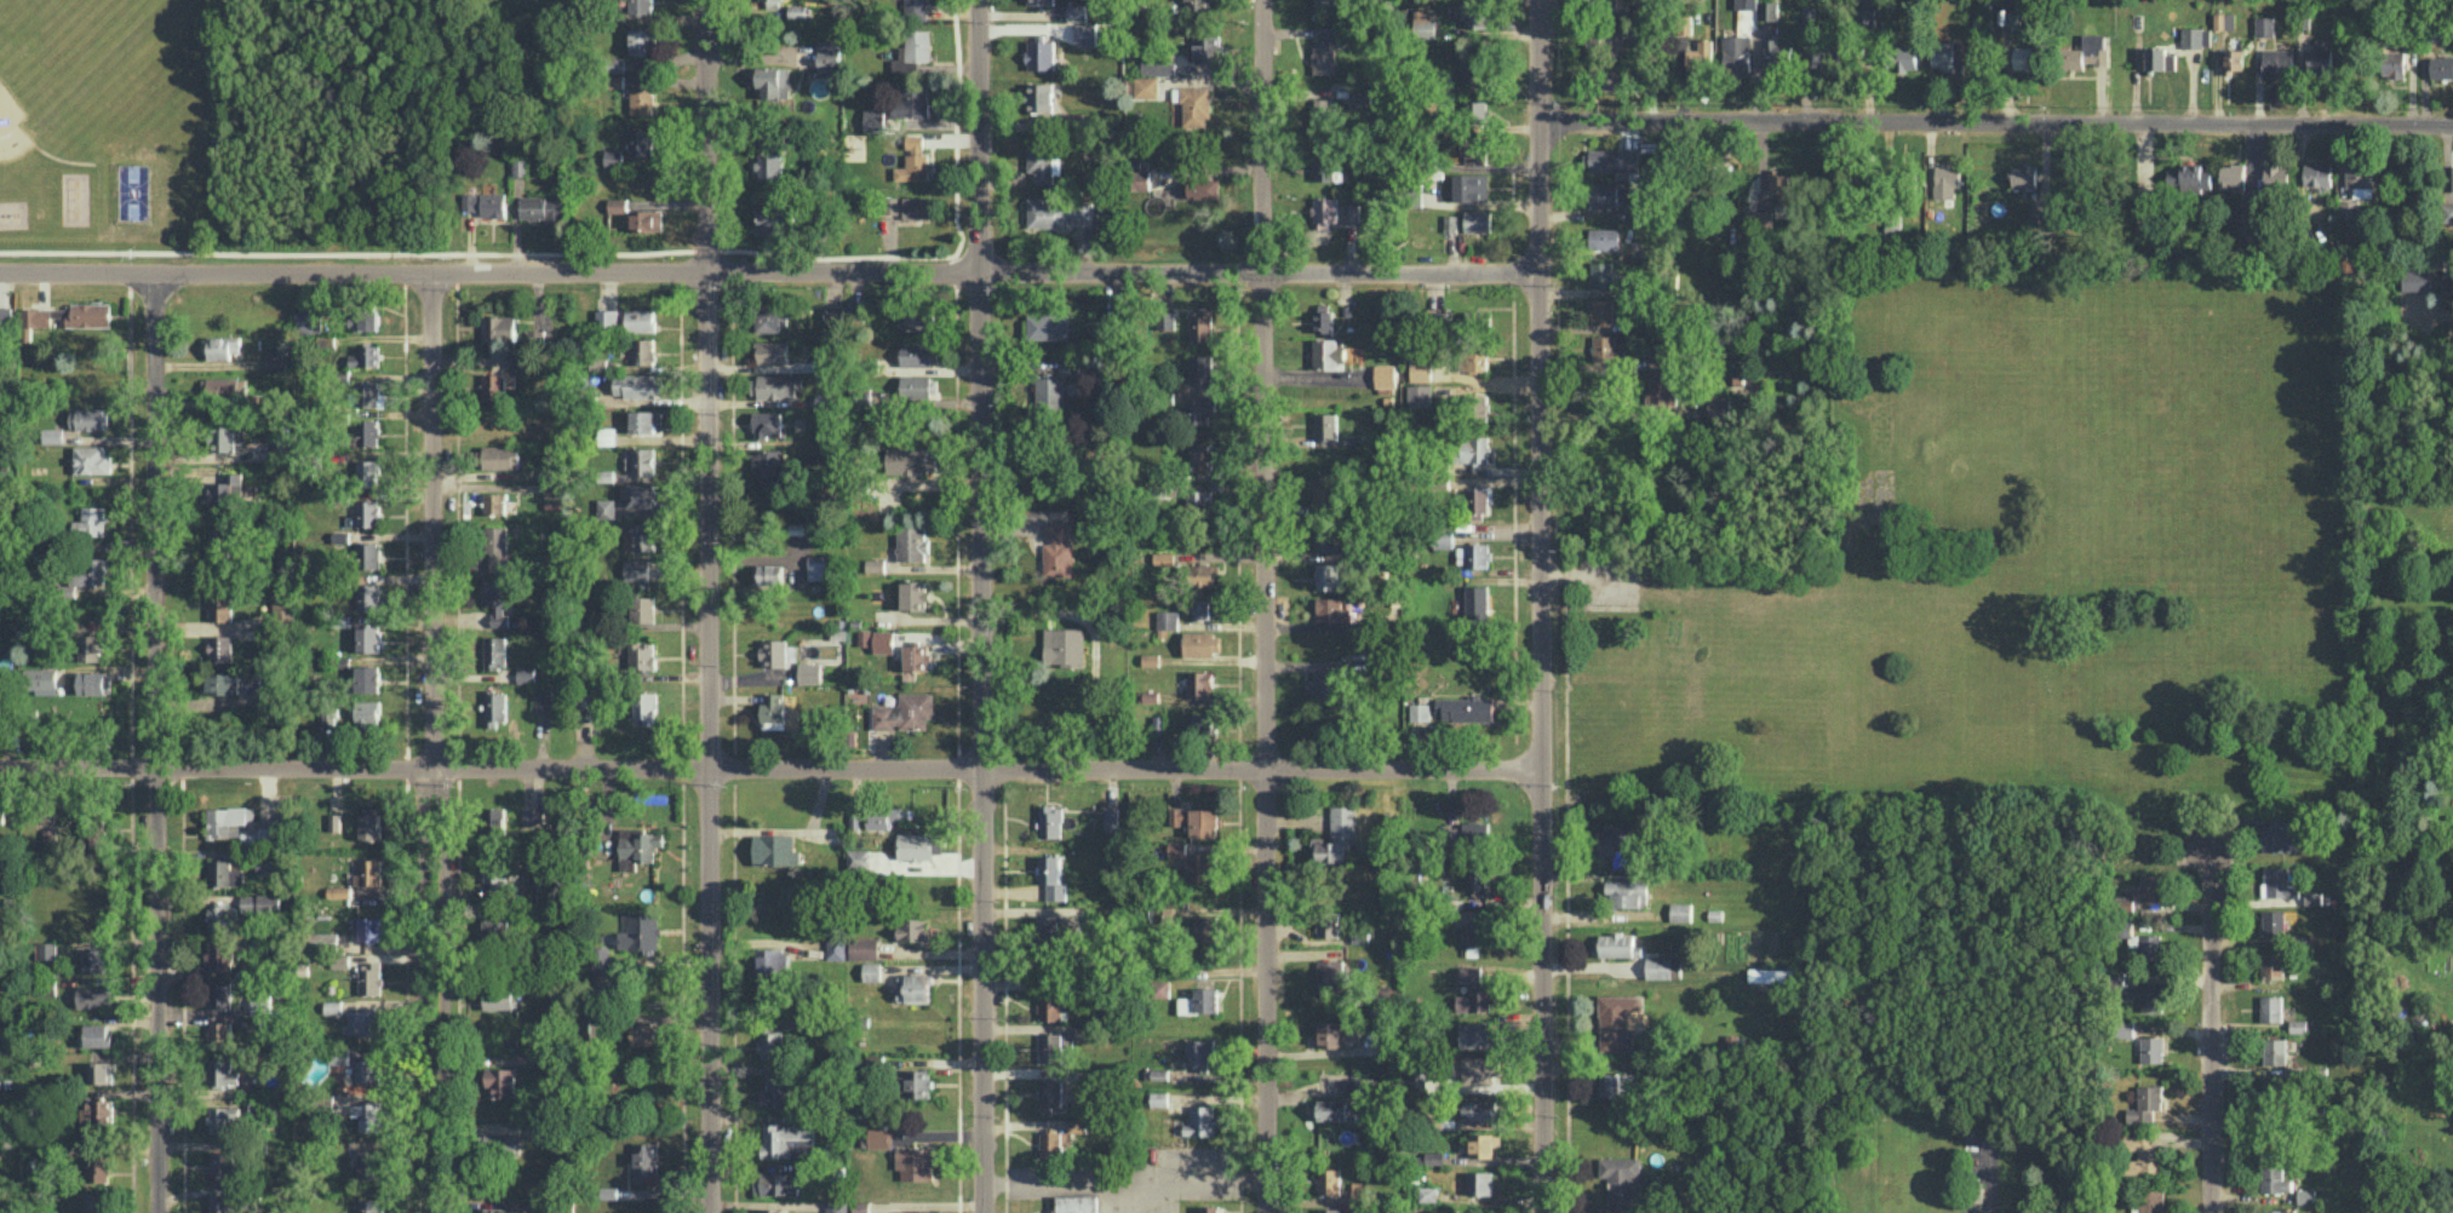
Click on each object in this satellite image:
building: (769, 1)
building: (1039, 1)
building: (1324, 2)
building: (1198, 4)
building: (1746, 4)
building: (640, 6)
building: (917, 8)
building: (1769, 10)
building: (799, 11)
building: (1077, 11)
building: (1474, 13)
building: (1425, 21)
building: (2223, 21)
building: (2264, 25)
building: (1085, 34)
building: (2195, 36)
building: (642, 40)
building: (1597, 44)
building: (1325, 47)
building: (1207, 48)
building: (912, 51)
building: (2085, 52)
building: (1736, 53)
building: (1776, 53)
building: (1819, 53)
building: (1947, 53)
building: (1041, 54)
building: (1908, 56)
building: (2320, 56)
building: (1700, 57)
building: (2025, 57)
building: (2159, 58)
building: (2233, 59)
building: (829, 62)
building: (2276, 62)
building: (2392, 63)
building: (2441, 67)
building: (1157, 68)
building: (1473, 69)
building: (773, 80)
building: (1146, 86)
building: (641, 93)
building: (1041, 97)
building: (911, 102)
building: (1194, 105)
building: (1479, 109)
building: (1323, 111)
building: (873, 120)
road: (1995, 122)
building: (641, 142)
building: (613, 157)
building: (1043, 159)
building: (1614, 159)
building: (913, 160)
building: (1324, 163)
building: (769, 165)
building: (520, 167)
building: (2317, 173)
building: (2231, 174)
building: (2023, 176)
building: (2275, 176)
building: (2189, 177)
building: (2360, 179)
building: (2452, 179)
building: (1141, 180)
building: (1945, 180)
building: (1779, 183)
building: (1472, 186)
building: (1203, 188)
park: (133, 190)
building: (1604, 194)
building: (486, 202)
building: (618, 205)
building: (909, 206)
building: (543, 207)
building: (2349, 208)
building: (1326, 209)
building: (1058, 212)
building: (1352, 212)
building: (2447, 212)
building: (774, 219)
building: (647, 220)
building: (1478, 220)
building: (2245, 222)
building: (1451, 223)
building: (1604, 237)
road: (768, 274)
building: (1604, 274)
building: (2415, 280)
building: (2447, 283)
building: (1601, 310)
building: (832, 312)
building: (5, 314)
building: (90, 314)
building: (1472, 314)
building: (58, 316)
building: (1324, 317)
building: (367, 318)
building: (607, 318)
building: (915, 318)
building: (1165, 318)
building: (33, 320)
building: (640, 320)
building: (770, 320)
building: (308, 321)
building: (1199, 323)
building: (1048, 326)
building: (499, 327)
building: (219, 346)
building: (1604, 347)
building: (643, 350)
building: (773, 351)
building: (921, 352)
building: (1328, 353)
building: (366, 356)
building: (274, 357)
building: (1474, 358)
building: (823, 360)
building: (521, 361)
building: (1071, 366)
building: (1200, 367)
building: (1420, 368)
building: (1385, 374)
building: (223, 385)
building: (638, 385)
building: (779, 385)
building: (494, 386)
building: (919, 386)
building: (1660, 387)
building: (368, 392)
building: (1049, 392)
building: (1420, 393)
building: (824, 399)
building: (1478, 407)
building: (1718, 407)
building: (1199, 409)
building: (86, 418)
building: (644, 420)
building: (767, 424)
building: (1325, 425)
building: (367, 432)
building: (53, 435)
building: (222, 436)
building: (281, 441)
building: (1472, 448)
building: (1200, 454)
building: (500, 456)
building: (92, 459)
building: (910, 459)
building: (643, 460)
building: (769, 465)
building: (367, 470)
building: (227, 489)
building: (1326, 489)
building: (641, 494)
building: (1199, 499)
building: (494, 502)
building: (1475, 504)
building: (606, 506)
building: (368, 512)
building: (91, 521)
building: (340, 536)
building: (637, 536)
building: (1329, 536)
building: (1443, 536)
building: (911, 542)
building: (219, 545)
building: (495, 547)
building: (1056, 548)
building: (367, 554)
building: (1472, 554)
building: (1163, 557)
building: (875, 564)
building: (818, 565)
building: (636, 569)
building: (0, 573)
building: (86, 573)
building: (768, 573)
building: (1204, 574)
building: (1328, 576)
building: (497, 590)
building: (913, 594)
building: (367, 596)
building: (1477, 602)
road: (982, 605)
road: (1265, 605)
road: (1542, 605)
building: (220, 606)
road: (706, 606)
building: (283, 608)
building: (642, 608)
building: (1203, 609)
building: (1332, 609)
building: (499, 616)
building: (1168, 619)
building: (96, 620)
building: (368, 637)
building: (864, 637)
building: (882, 640)
building: (1202, 643)
building: (1064, 645)
building: (91, 646)
building: (220, 648)
building: (494, 651)
building: (773, 653)
building: (641, 654)
building: (917, 656)
building: (809, 672)
building: (526, 674)
building: (368, 678)
building: (44, 680)
building: (219, 683)
building: (1199, 683)
building: (1324, 685)
building: (1148, 695)
building: (543, 699)
building: (494, 706)
building: (644, 706)
building: (773, 706)
building: (1467, 707)
building: (905, 711)
building: (1420, 711)
building: (367, 713)
building: (328, 715)
building: (1158, 723)
building: (1203, 723)
road: (157, 741)
road: (432, 741)
road: (772, 771)
building: (1, 812)
building: (533, 816)
building: (884, 816)
building: (1110, 818)
building: (229, 820)
building: (1196, 820)
building: (336, 821)
building: (854, 821)
building: (1050, 821)
building: (494, 823)
building: (369, 826)
building: (260, 835)
building: (832, 835)
building: (1336, 835)
building: (50, 837)
building: (1617, 838)
building: (640, 845)
building: (916, 845)
building: (775, 849)
building: (859, 857)
building: (1196, 861)
building: (268, 864)
building: (369, 872)
building: (495, 872)
building: (224, 873)
building: (1051, 876)
building: (1475, 876)
building: (2279, 883)
building: (339, 891)
building: (1626, 892)
building: (2142, 892)
road: (2246, 892)
building: (260, 902)
building: (1160, 914)
building: (224, 916)
building: (2276, 922)
building: (1326, 925)
building: (1048, 927)
building: (1207, 927)
building: (369, 929)
building: (912, 929)
building: (641, 931)
building: (1474, 932)
building: (325, 939)
building: (836, 943)
building: (1617, 944)
building: (2149, 947)
building: (864, 948)
building: (46, 950)
building: (219, 954)
building: (94, 960)
building: (342, 960)
building: (600, 960)
building: (772, 960)
building: (2271, 965)
building: (1663, 966)
building: (251, 967)
building: (871, 971)
building: (1330, 975)
building: (1770, 975)
building: (371, 977)
building: (913, 987)
building: (1160, 988)
building: (1473, 990)
building: (2140, 993)
building: (220, 994)
building: (94, 995)
building: (499, 998)
building: (1207, 999)
building: (260, 1002)
building: (1049, 1004)
building: (1186, 1005)
building: (334, 1006)
building: (2270, 1007)
road: (2211, 1014)
building: (363, 1021)
building: (1616, 1021)
building: (2126, 1029)
building: (1329, 1033)
building: (98, 1034)
building: (220, 1034)
building: (648, 1034)
building: (1078, 1034)
building: (1477, 1034)
building: (770, 1042)
building: (1050, 1047)
building: (2151, 1048)
building: (1198, 1052)
building: (340, 1056)
building: (367, 1069)
building: (1479, 1069)
building: (102, 1071)
building: (222, 1073)
building: (1156, 1073)
building: (1415, 1075)
building: (502, 1081)
building: (917, 1082)
building: (1615, 1083)
building: (1356, 1086)
building: (776, 1091)
building: (1050, 1094)
building: (1159, 1098)
building: (2145, 1103)
building: (258, 1106)
building: (1329, 1109)
building: (1477, 1109)
building: (97, 1110)
building: (368, 1115)
building: (222, 1117)
building: (1200, 1120)
building: (1077, 1125)
building: (879, 1137)
building: (500, 1140)
building: (787, 1140)
building: (1053, 1142)
building: (1480, 1145)
building: (2143, 1154)
building: (1434, 1156)
building: (644, 1160)
building: (371, 1162)
building: (224, 1163)
building: (915, 1163)
building: (98, 1167)
road: (1124, 1175)
road: (1989, 1178)
building: (2274, 1179)
building: (1329, 1180)
building: (1479, 1182)
building: (1622, 1182)
building: (776, 1183)
building: (1359, 1188)
building: (1427, 1192)
road: (1107, 1195)
building: (2305, 1195)
building: (2151, 1201)
building: (96, 1202)
building: (220, 1203)
building: (1079, 1203)
building: (371, 1206)
building: (836, 1206)
building: (860, 1206)
building: (1210, 1208)
building: (491, 1209)
building: (529, 1209)
building: (1329, 1209)
building: (2279, 1211)
building: (774, 1212)
building: (919, 1212)

